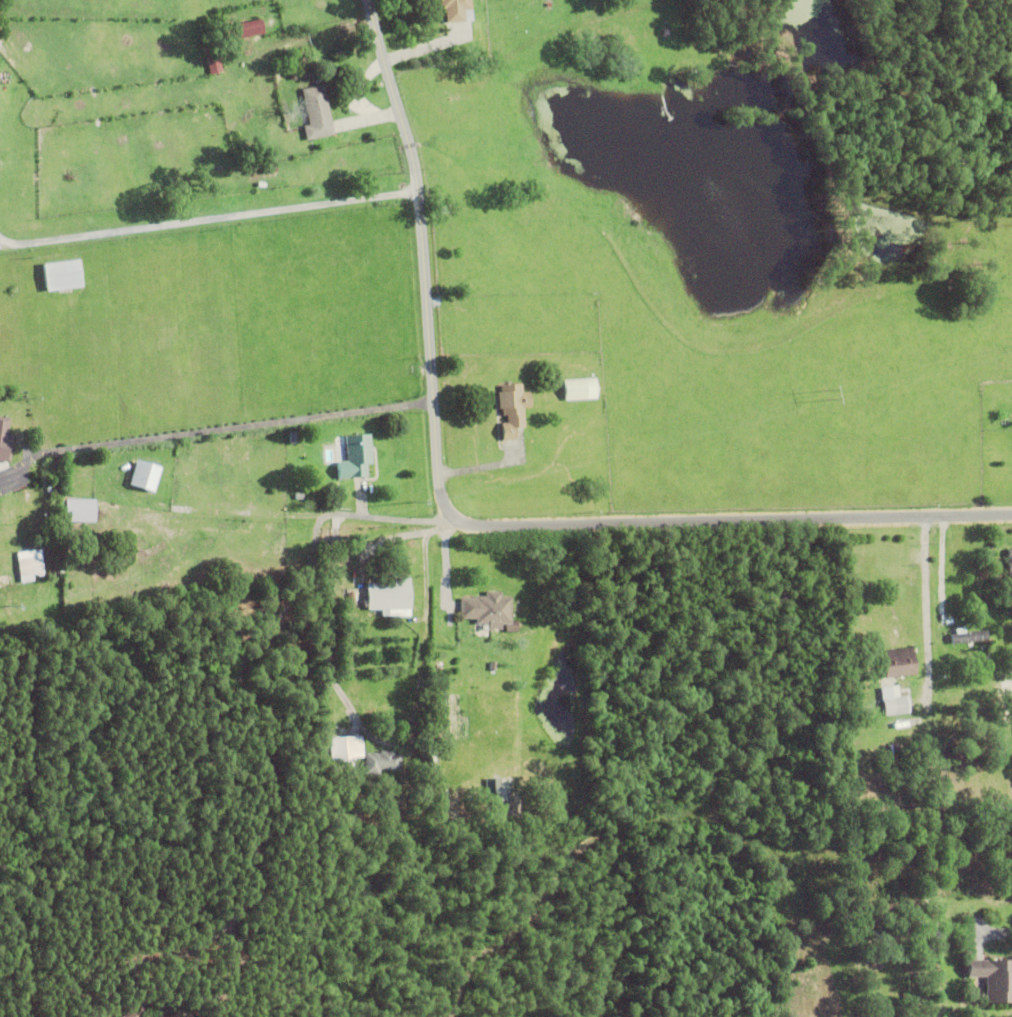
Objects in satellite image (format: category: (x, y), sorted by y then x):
building: (456, 11)
building: (238, 32)
building: (212, 59)
building: (292, 76)
building: (316, 114)
building: (269, 170)
road: (209, 221)
building: (66, 275)
building: (580, 391)
road: (416, 401)
building: (513, 410)
road: (198, 430)
building: (4, 442)
building: (356, 454)
building: (140, 475)
building: (79, 514)
road: (393, 518)
road: (468, 523)
road: (424, 555)
building: (1010, 561)
road: (943, 567)
building: (30, 569)
building: (389, 593)
building: (1006, 598)
road: (926, 604)
building: (487, 607)
building: (512, 627)
building: (964, 634)
building: (899, 661)
building: (493, 664)
building: (1011, 696)
building: (893, 699)
building: (345, 749)
road: (266, 772)
building: (399, 784)
building: (498, 787)
building: (990, 978)
building: (131, 1012)
building: (167, 1014)

